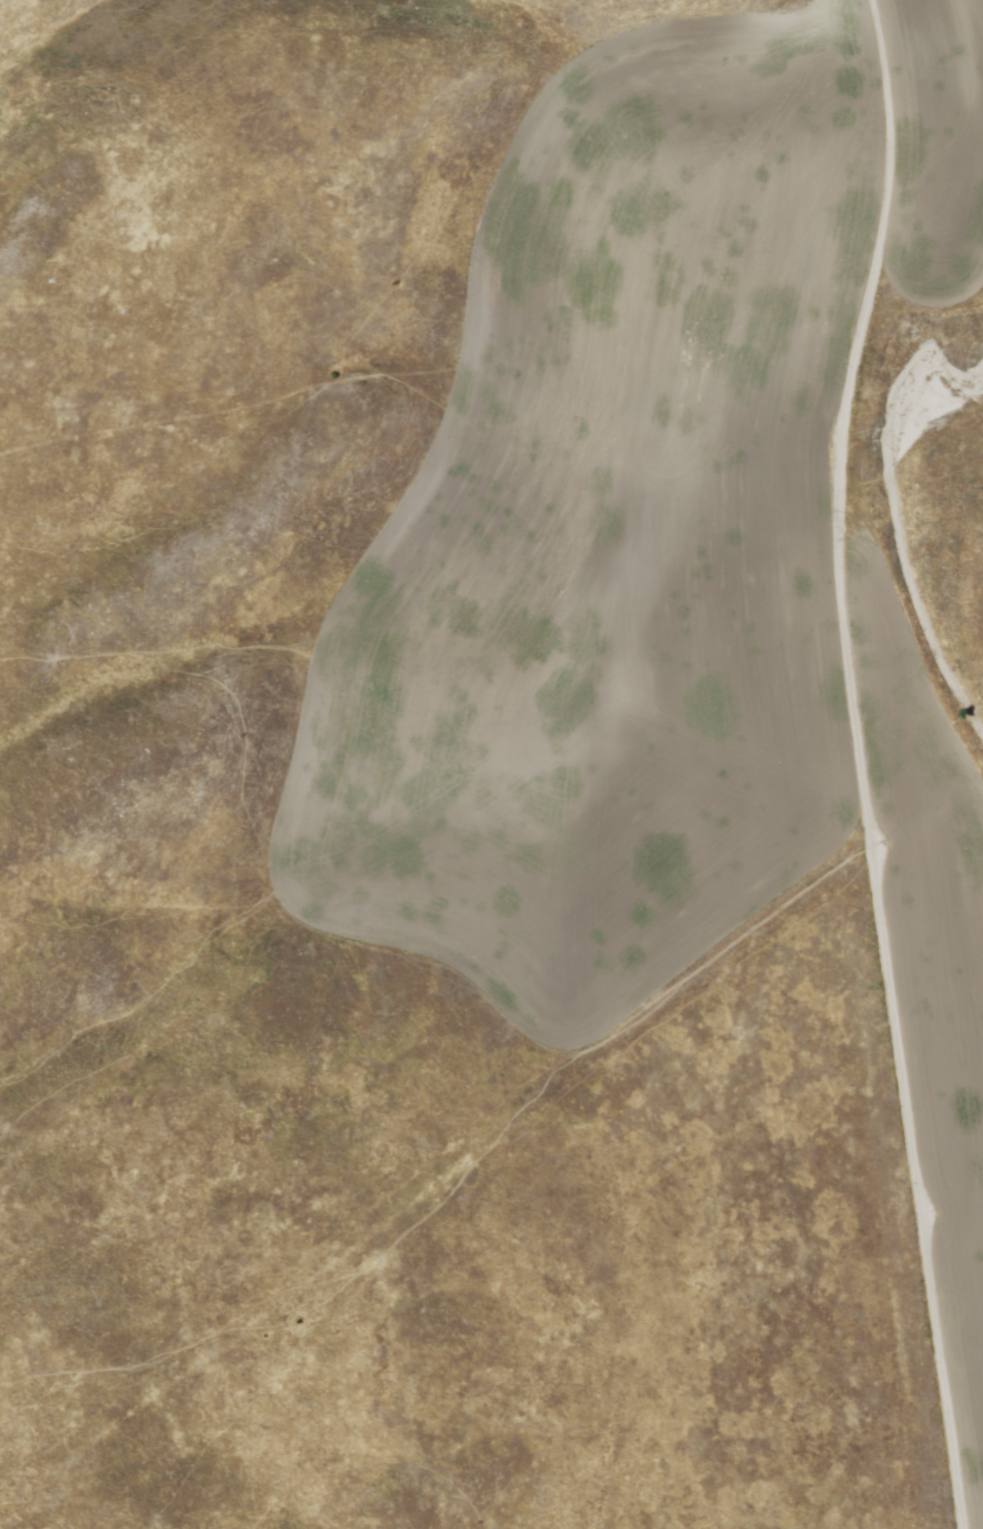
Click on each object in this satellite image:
road: (864, 763)

